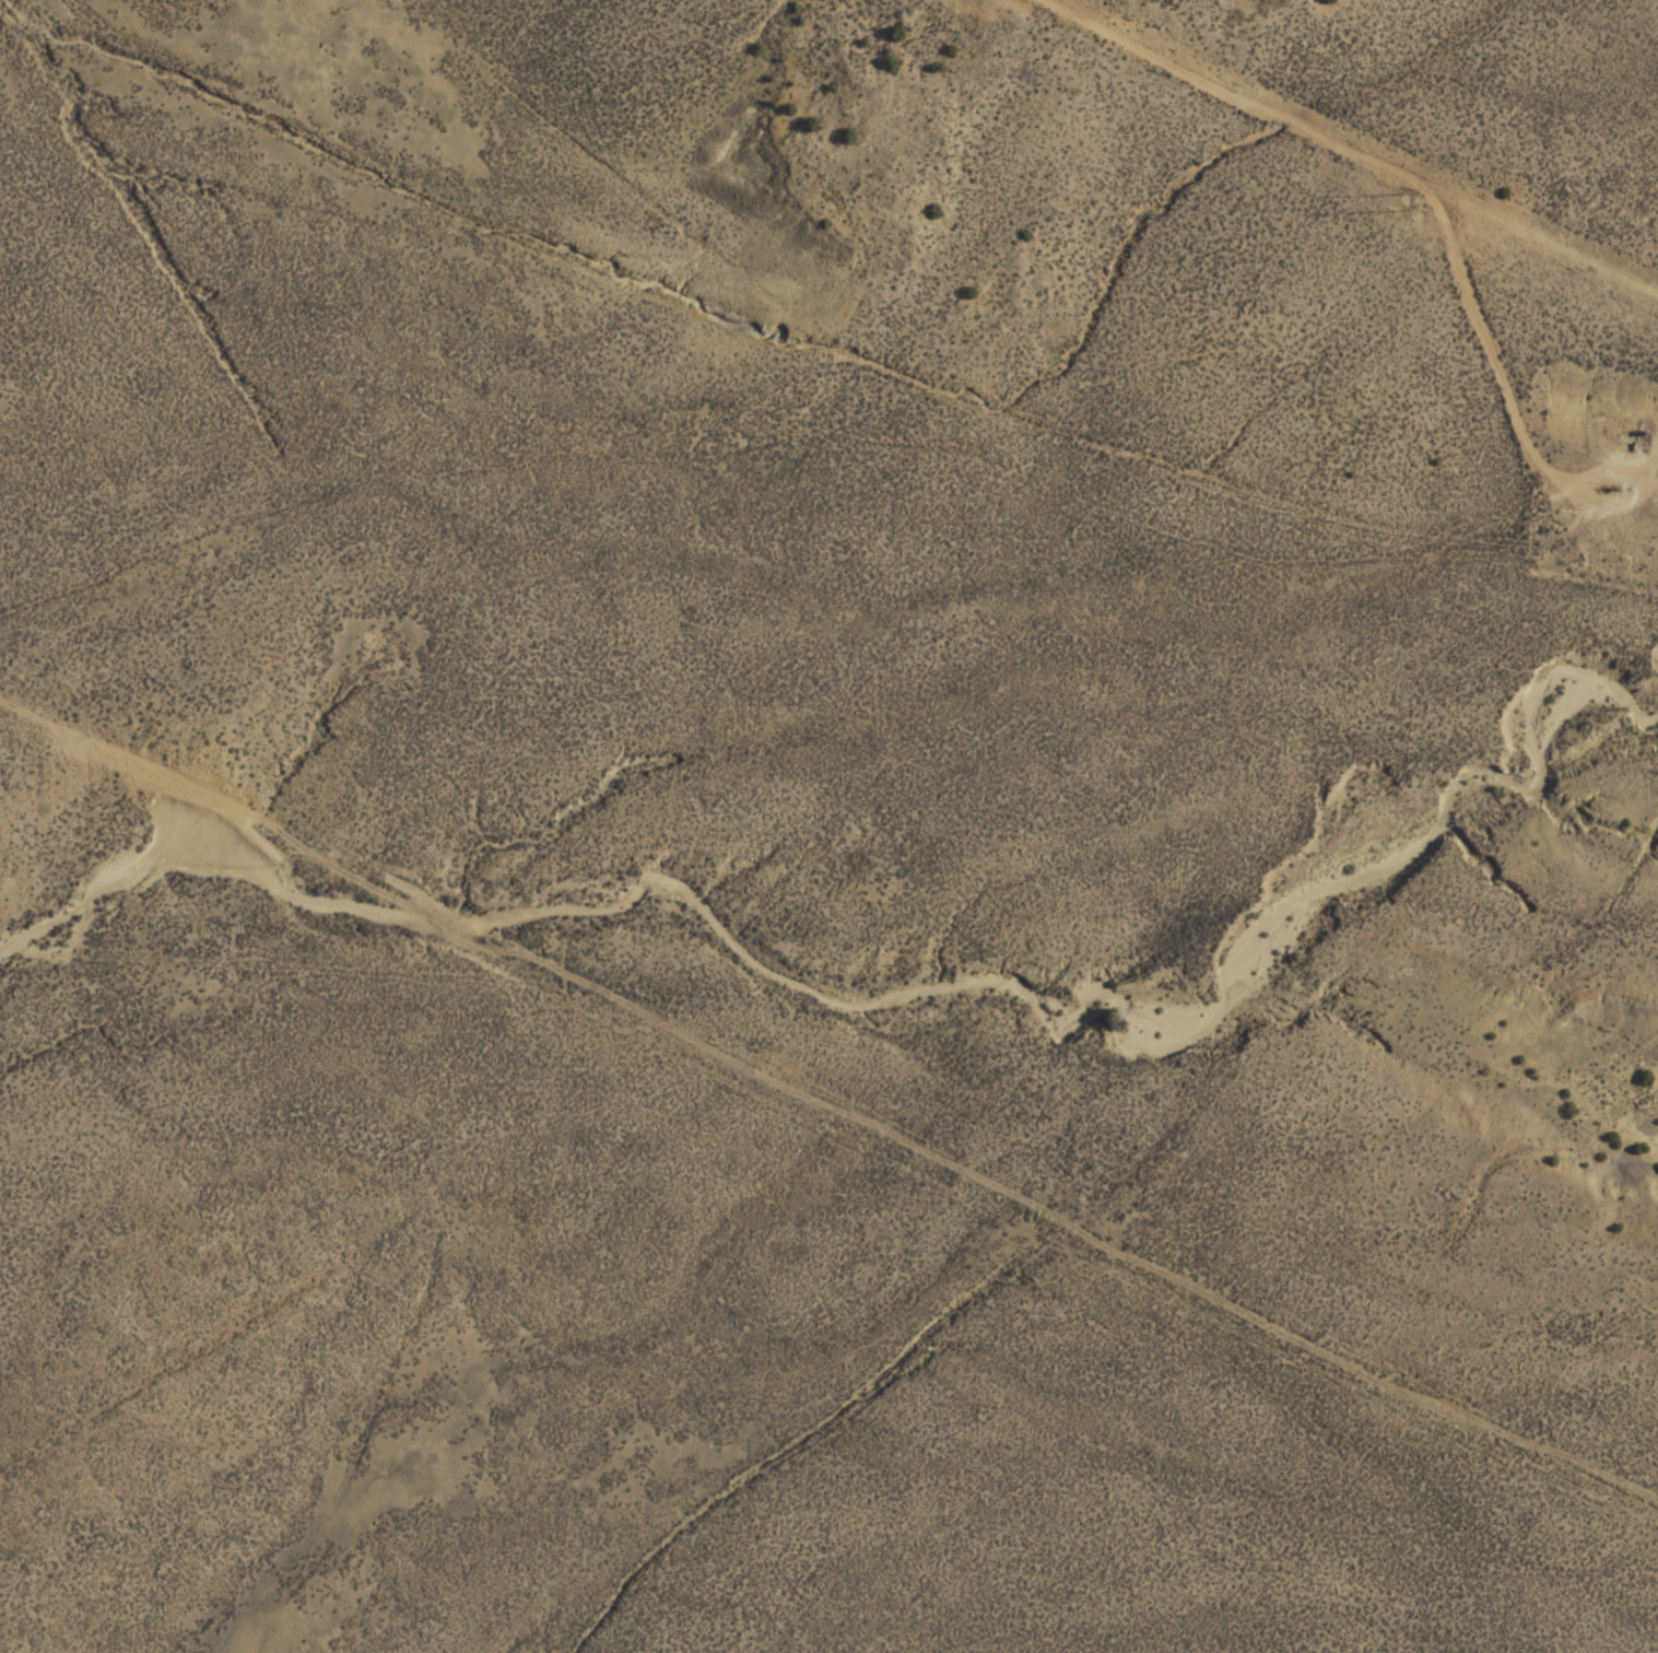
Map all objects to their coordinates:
power tower: (1410, 209)
road: (843, 362)

